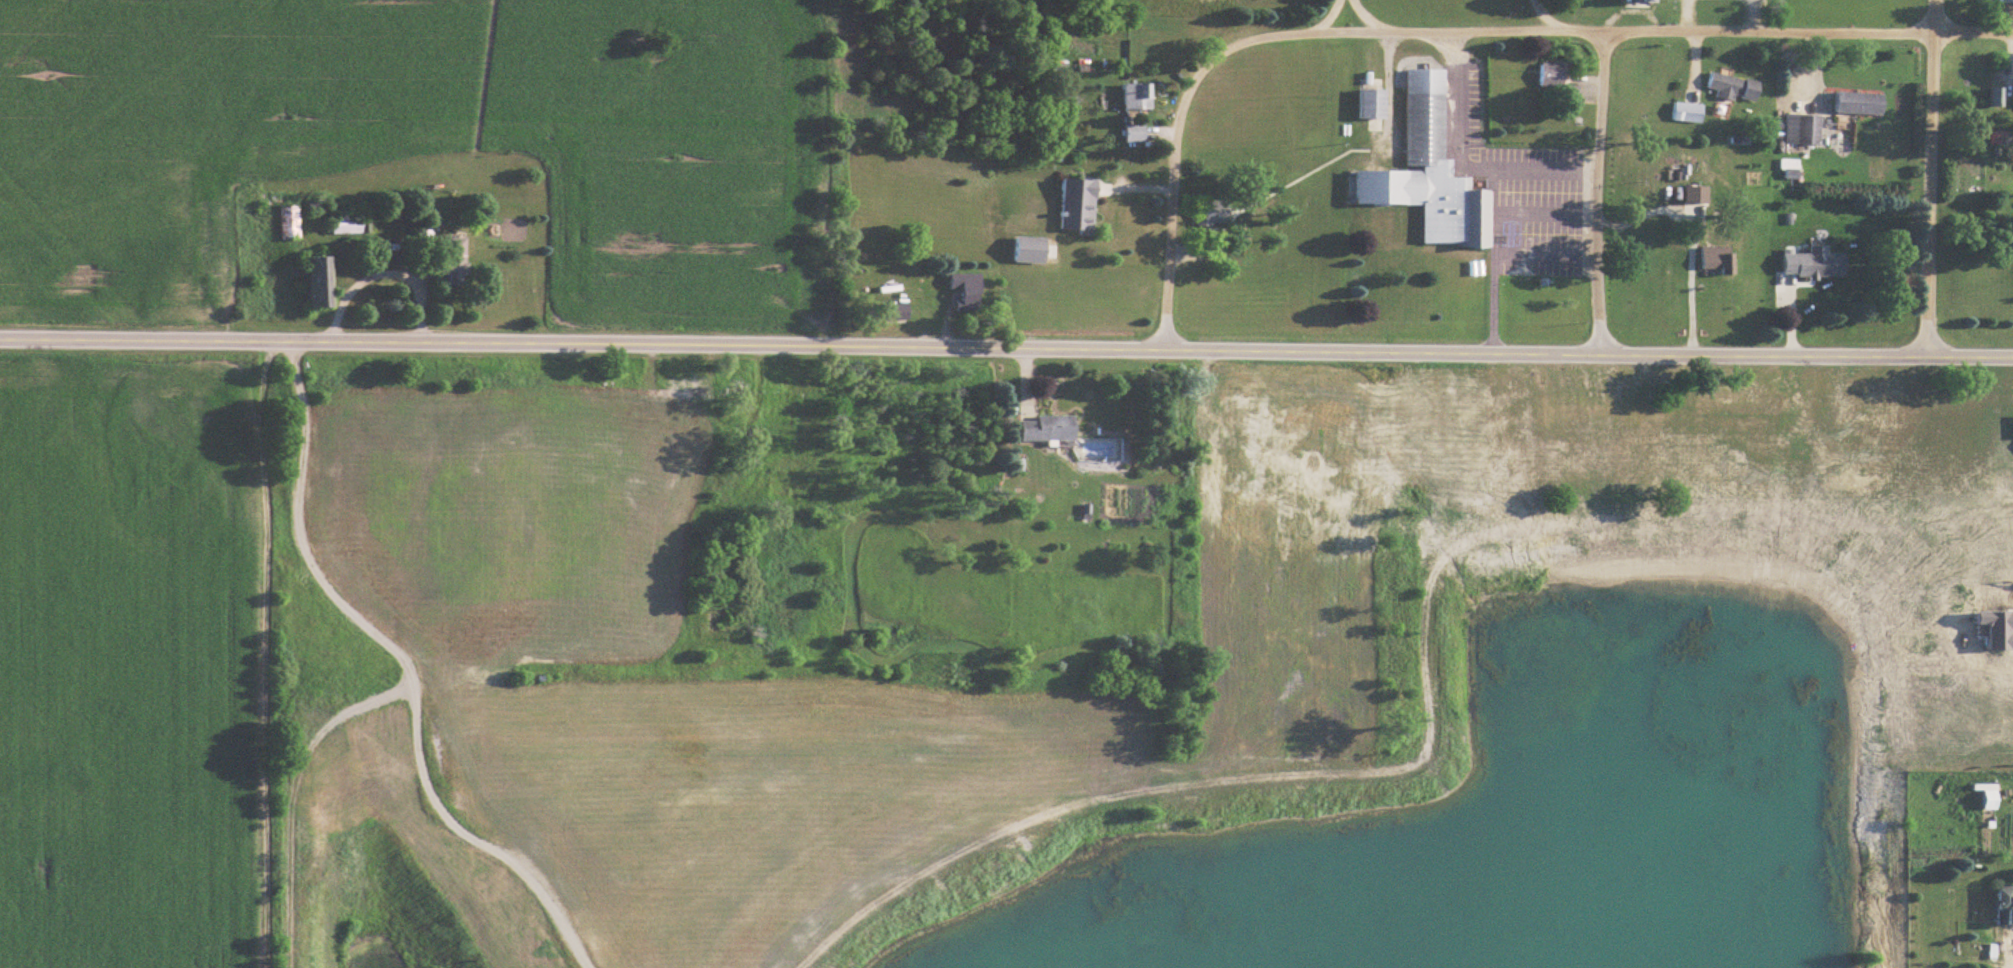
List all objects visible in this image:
building: (1630, 0)
building: (2003, 0)
road: (1345, 16)
road: (1537, 16)
road: (1456, 32)
building: (1551, 82)
building: (1729, 85)
building: (1130, 94)
building: (1991, 96)
building: (1366, 101)
building: (1854, 101)
building: (1798, 127)
building: (1127, 131)
road: (1464, 160)
building: (1437, 176)
road: (1931, 177)
road: (1594, 193)
building: (1070, 204)
building: (1207, 210)
road: (1531, 210)
building: (284, 217)
building: (349, 225)
road: (1696, 225)
road: (1495, 251)
building: (1710, 259)
building: (1807, 262)
road: (381, 270)
building: (458, 272)
building: (323, 282)
building: (959, 289)
building: (888, 309)
road: (1006, 348)
building: (681, 387)
building: (623, 397)
building: (1039, 426)
building: (1011, 467)
building: (1993, 487)
building: (779, 492)
building: (2008, 553)
building: (1982, 794)
building: (2000, 904)
road: (2011, 947)

